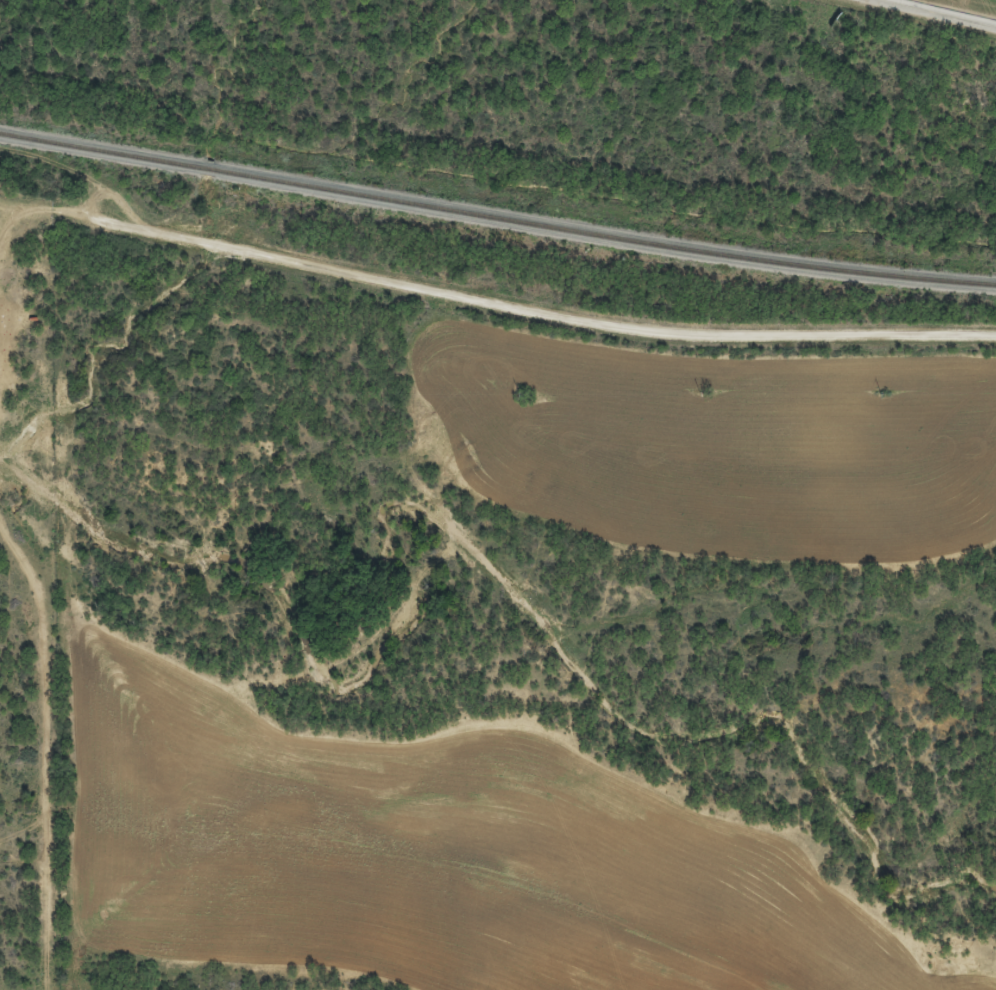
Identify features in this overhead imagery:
road: (925, 16)
railway: (496, 215)
road: (11, 264)
road: (41, 313)
road: (497, 315)

